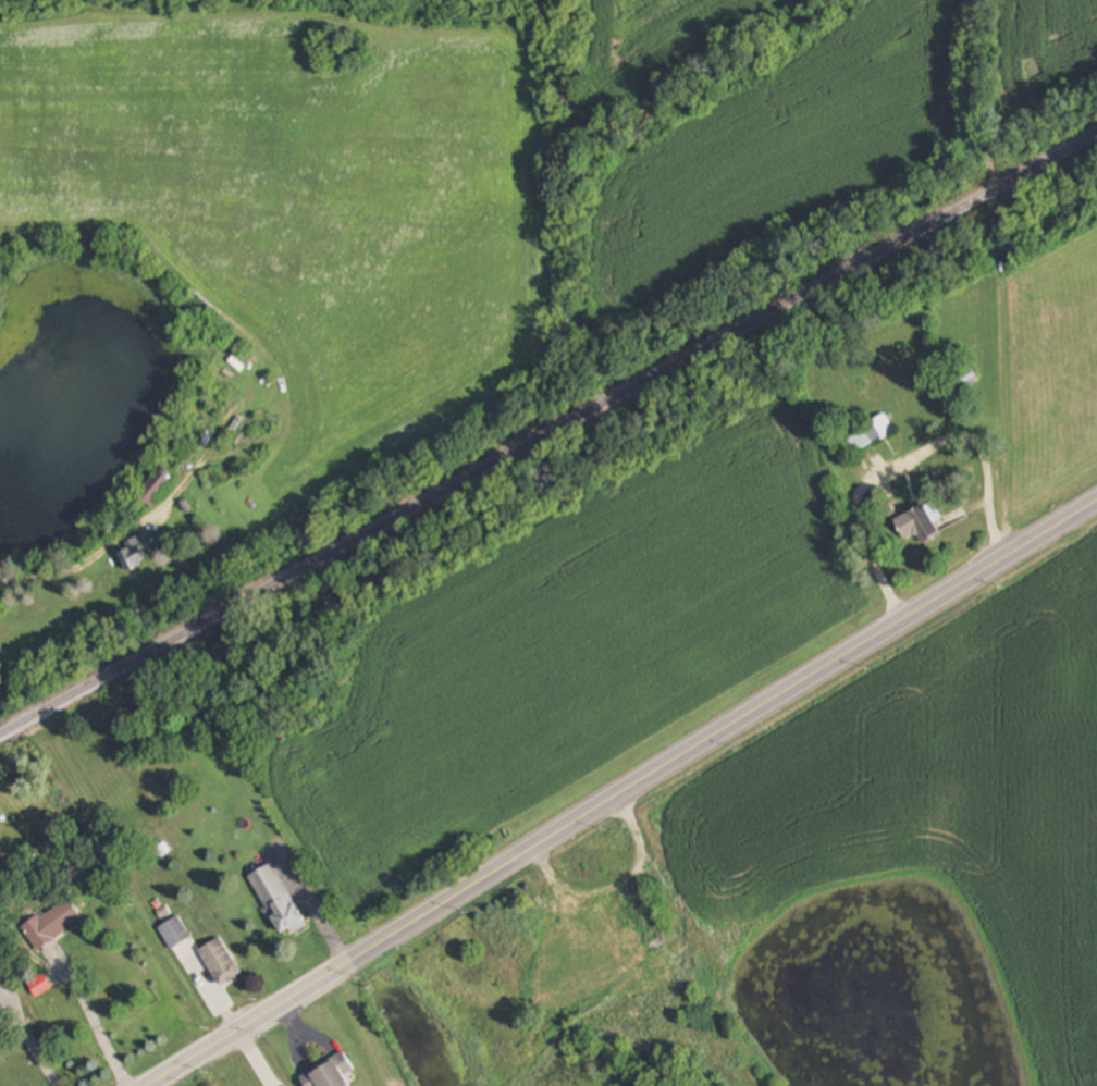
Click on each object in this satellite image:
road: (999, 266)
building: (969, 377)
railway: (547, 433)
building: (865, 434)
road: (905, 459)
building: (156, 484)
building: (917, 523)
road: (116, 542)
building: (135, 553)
road: (719, 732)
building: (276, 901)
building: (508, 923)
building: (51, 924)
building: (627, 935)
building: (220, 962)
road: (249, 1025)
road: (95, 1026)
park: (701, 1062)
building: (329, 1073)

